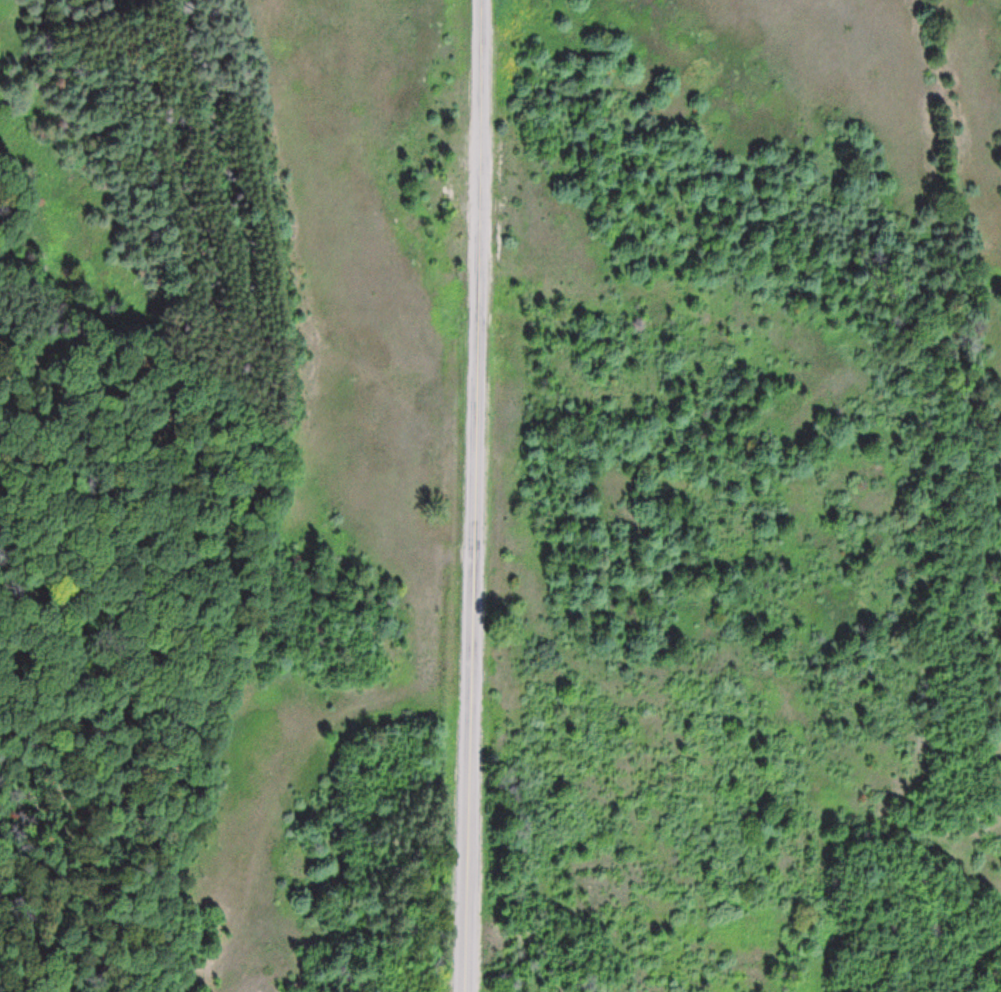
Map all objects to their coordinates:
road: (472, 496)

